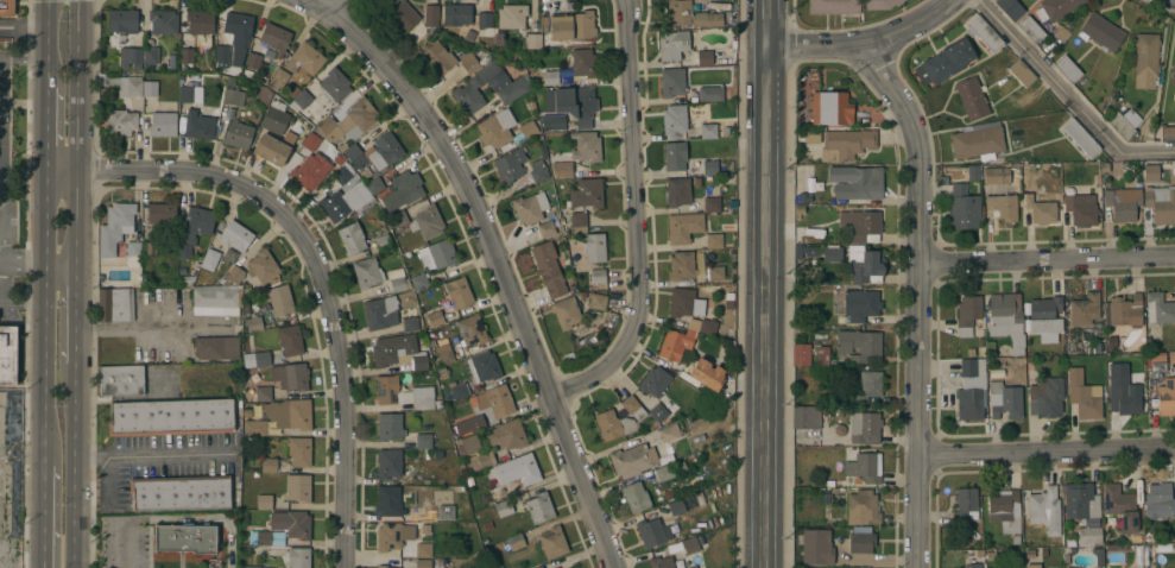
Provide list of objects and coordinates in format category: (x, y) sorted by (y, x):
building: (880, 4)
road: (321, 5)
building: (833, 6)
building: (7, 7)
building: (1010, 8)
building: (1054, 8)
building: (431, 12)
building: (690, 14)
building: (402, 15)
building: (511, 15)
building: (459, 17)
building: (122, 19)
building: (484, 19)
building: (163, 20)
road: (765, 23)
building: (201, 25)
building: (573, 25)
road: (26, 27)
building: (1031, 30)
building: (983, 32)
building: (1101, 32)
building: (232, 38)
building: (533, 40)
road: (49, 43)
road: (861, 43)
building: (672, 44)
building: (266, 45)
building: (187, 55)
road: (23, 56)
building: (131, 56)
building: (152, 57)
building: (703, 57)
building: (304, 58)
building: (438, 58)
building: (948, 59)
building: (1145, 59)
building: (468, 62)
building: (583, 63)
building: (1068, 69)
building: (1173, 71)
building: (1022, 72)
building: (550, 77)
building: (278, 78)
building: (671, 82)
building: (126, 84)
building: (335, 84)
building: (468, 87)
building: (150, 88)
building: (512, 90)
building: (233, 93)
building: (185, 94)
building: (263, 94)
building: (710, 94)
road: (1068, 95)
building: (973, 97)
building: (301, 99)
road: (25, 102)
building: (576, 103)
building: (829, 107)
building: (276, 118)
building: (674, 119)
building: (120, 121)
building: (349, 121)
building: (552, 121)
building: (162, 124)
building: (1125, 124)
building: (1174, 124)
building: (196, 125)
building: (504, 128)
road: (46, 130)
building: (708, 130)
building: (1167, 132)
road: (2, 134)
building: (238, 134)
building: (1080, 138)
building: (978, 140)
building: (310, 141)
building: (846, 144)
building: (586, 145)
building: (273, 147)
building: (374, 151)
building: (675, 156)
building: (510, 165)
building: (709, 168)
building: (567, 169)
building: (1087, 169)
building: (310, 170)
building: (537, 170)
building: (342, 172)
building: (1150, 172)
building: (1002, 175)
building: (855, 182)
building: (374, 184)
building: (403, 189)
building: (677, 191)
road: (80, 193)
building: (587, 193)
building: (1037, 196)
building: (341, 202)
building: (710, 203)
building: (1123, 203)
building: (1161, 204)
building: (530, 207)
building: (1000, 207)
building: (1079, 207)
building: (964, 208)
building: (162, 213)
building: (398, 217)
road: (638, 219)
building: (427, 222)
building: (579, 222)
building: (861, 225)
building: (115, 227)
building: (683, 227)
building: (195, 228)
building: (545, 228)
building: (235, 235)
building: (352, 238)
building: (381, 241)
building: (714, 241)
building: (593, 247)
building: (149, 250)
building: (132, 253)
building: (830, 253)
building: (437, 254)
road: (1047, 258)
building: (209, 259)
road: (23, 260)
road: (317, 261)
building: (864, 264)
building: (261, 265)
building: (682, 265)
road: (503, 267)
building: (548, 269)
building: (367, 272)
building: (715, 273)
building: (232, 276)
building: (598, 276)
building: (398, 279)
building: (188, 280)
building: (419, 280)
building: (456, 294)
road: (918, 298)
building: (216, 299)
building: (280, 299)
building: (598, 301)
building: (116, 304)
building: (860, 304)
road: (765, 307)
road: (45, 308)
building: (1158, 308)
building: (691, 309)
building: (1085, 309)
building: (968, 310)
building: (380, 313)
building: (566, 313)
building: (1044, 315)
building: (1120, 316)
building: (435, 317)
building: (1006, 320)
road: (67, 323)
building: (253, 323)
building: (410, 323)
road: (145, 328)
building: (470, 329)
building: (290, 340)
building: (860, 343)
building: (674, 345)
building: (216, 347)
building: (397, 351)
building: (443, 353)
building: (7, 354)
building: (801, 354)
building: (822, 355)
building: (261, 358)
building: (1171, 359)
building: (1157, 362)
building: (484, 366)
building: (707, 373)
building: (121, 379)
building: (285, 379)
building: (655, 380)
building: (868, 385)
building: (971, 389)
building: (457, 390)
building: (403, 393)
building: (1084, 396)
building: (1046, 397)
building: (1165, 397)
building: (1124, 398)
building: (495, 399)
building: (1004, 399)
building: (633, 409)
building: (658, 412)
building: (289, 414)
building: (171, 417)
building: (806, 417)
building: (613, 424)
building: (390, 425)
building: (470, 425)
building: (864, 427)
building: (254, 428)
building: (669, 431)
building: (507, 434)
building: (423, 440)
building: (468, 443)
road: (1046, 450)
building: (299, 452)
road: (153, 454)
building: (482, 460)
building: (632, 460)
building: (388, 462)
building: (269, 465)
building: (865, 467)
building: (669, 469)
building: (514, 471)
road: (72, 477)
road: (109, 480)
building: (298, 487)
building: (181, 492)
building: (636, 497)
building: (391, 500)
building: (1080, 500)
building: (1160, 500)
building: (264, 501)
building: (965, 504)
building: (864, 505)
building: (1120, 505)
road: (44, 506)
road: (50, 506)
building: (676, 506)
building: (504, 507)
building: (539, 507)
building: (1004, 507)
building: (1044, 509)
building: (446, 512)
road: (201, 518)
building: (291, 523)
building: (653, 531)
building: (396, 534)
building: (1088, 536)
building: (266, 537)
building: (184, 538)
building: (516, 541)
parking lot: (127, 542)
building: (552, 542)
building: (695, 543)
road: (126, 545)
building: (826, 547)
building: (863, 547)
building: (423, 549)
building: (298, 557)
building: (661, 562)
building: (423, 563)
building: (1032, 564)
building: (251, 566)
building: (381, 566)
building: (972, 566)
building: (386, 567)
building: (538, 567)
building: (571, 567)
building: (691, 567)
building: (1051, 567)
building: (1070, 567)

